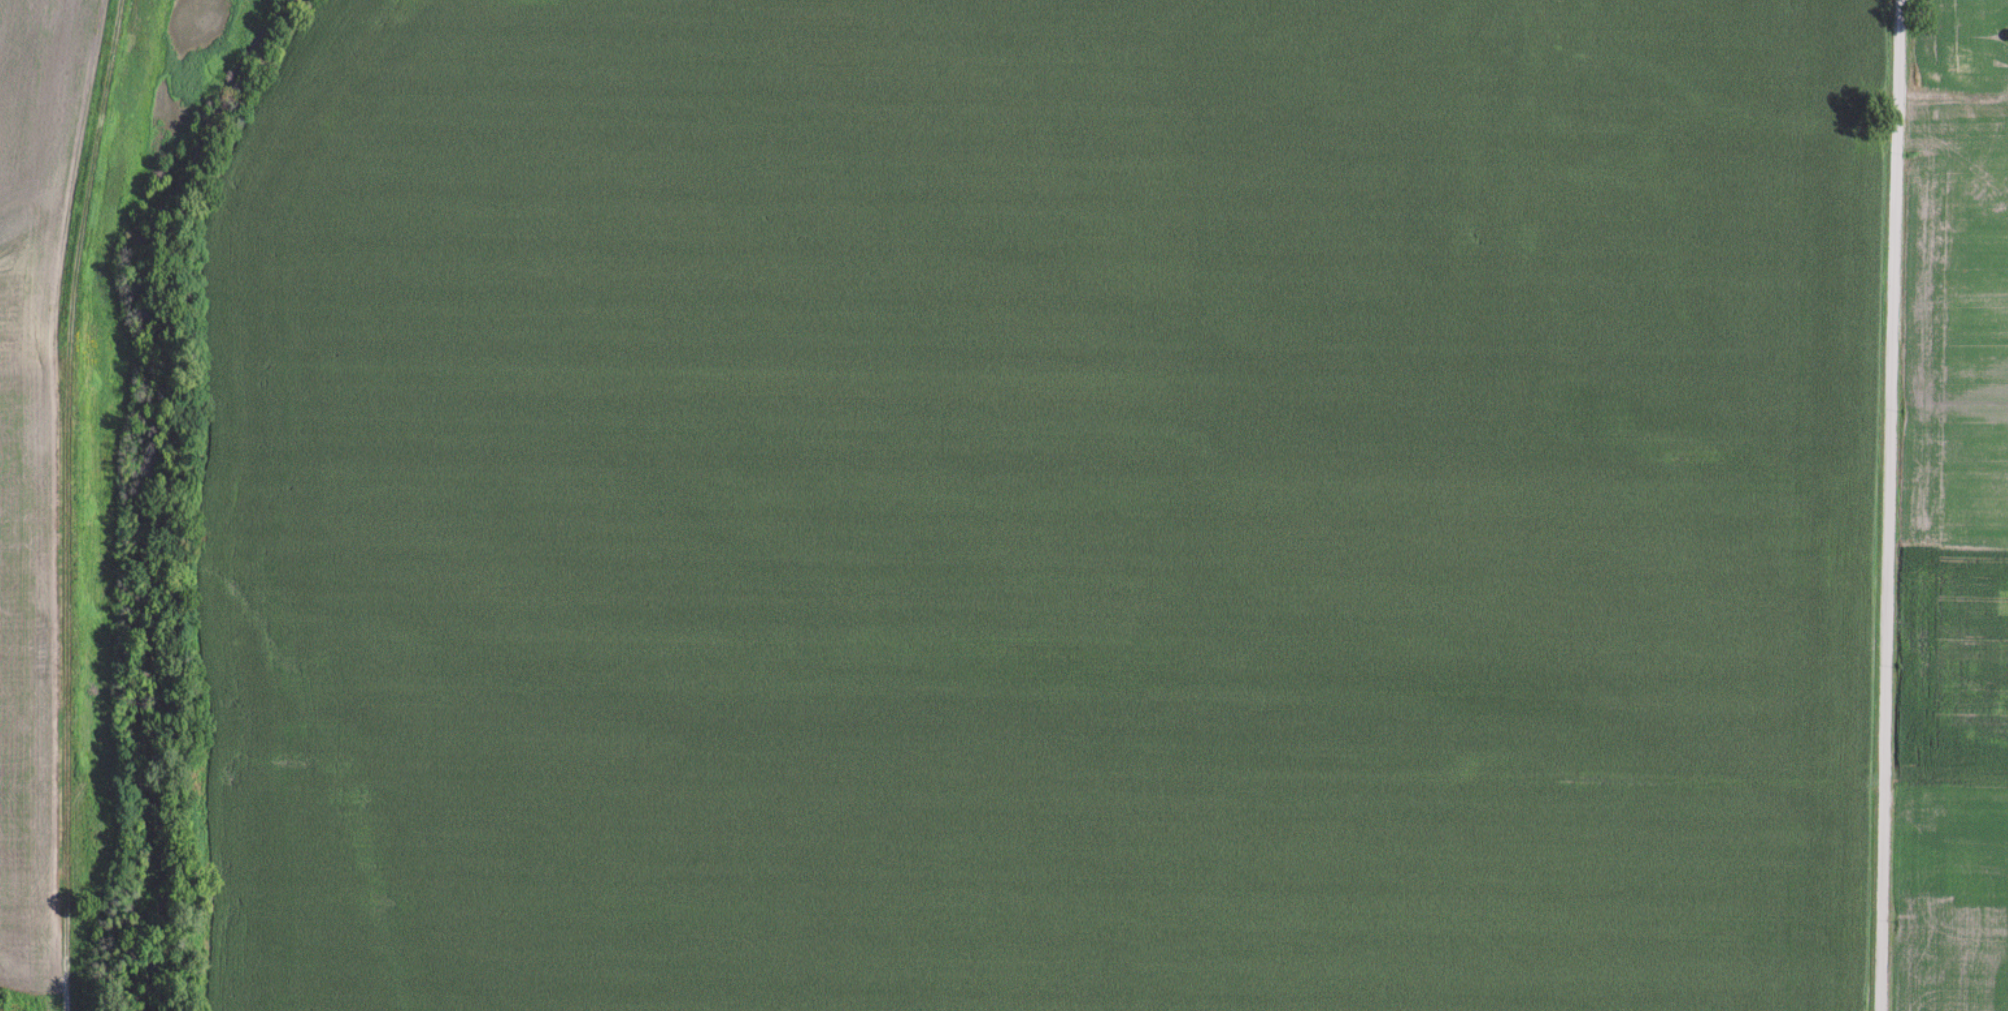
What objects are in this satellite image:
building: (1956, 58)
road: (1775, 115)
road: (57, 505)
road: (1887, 505)

